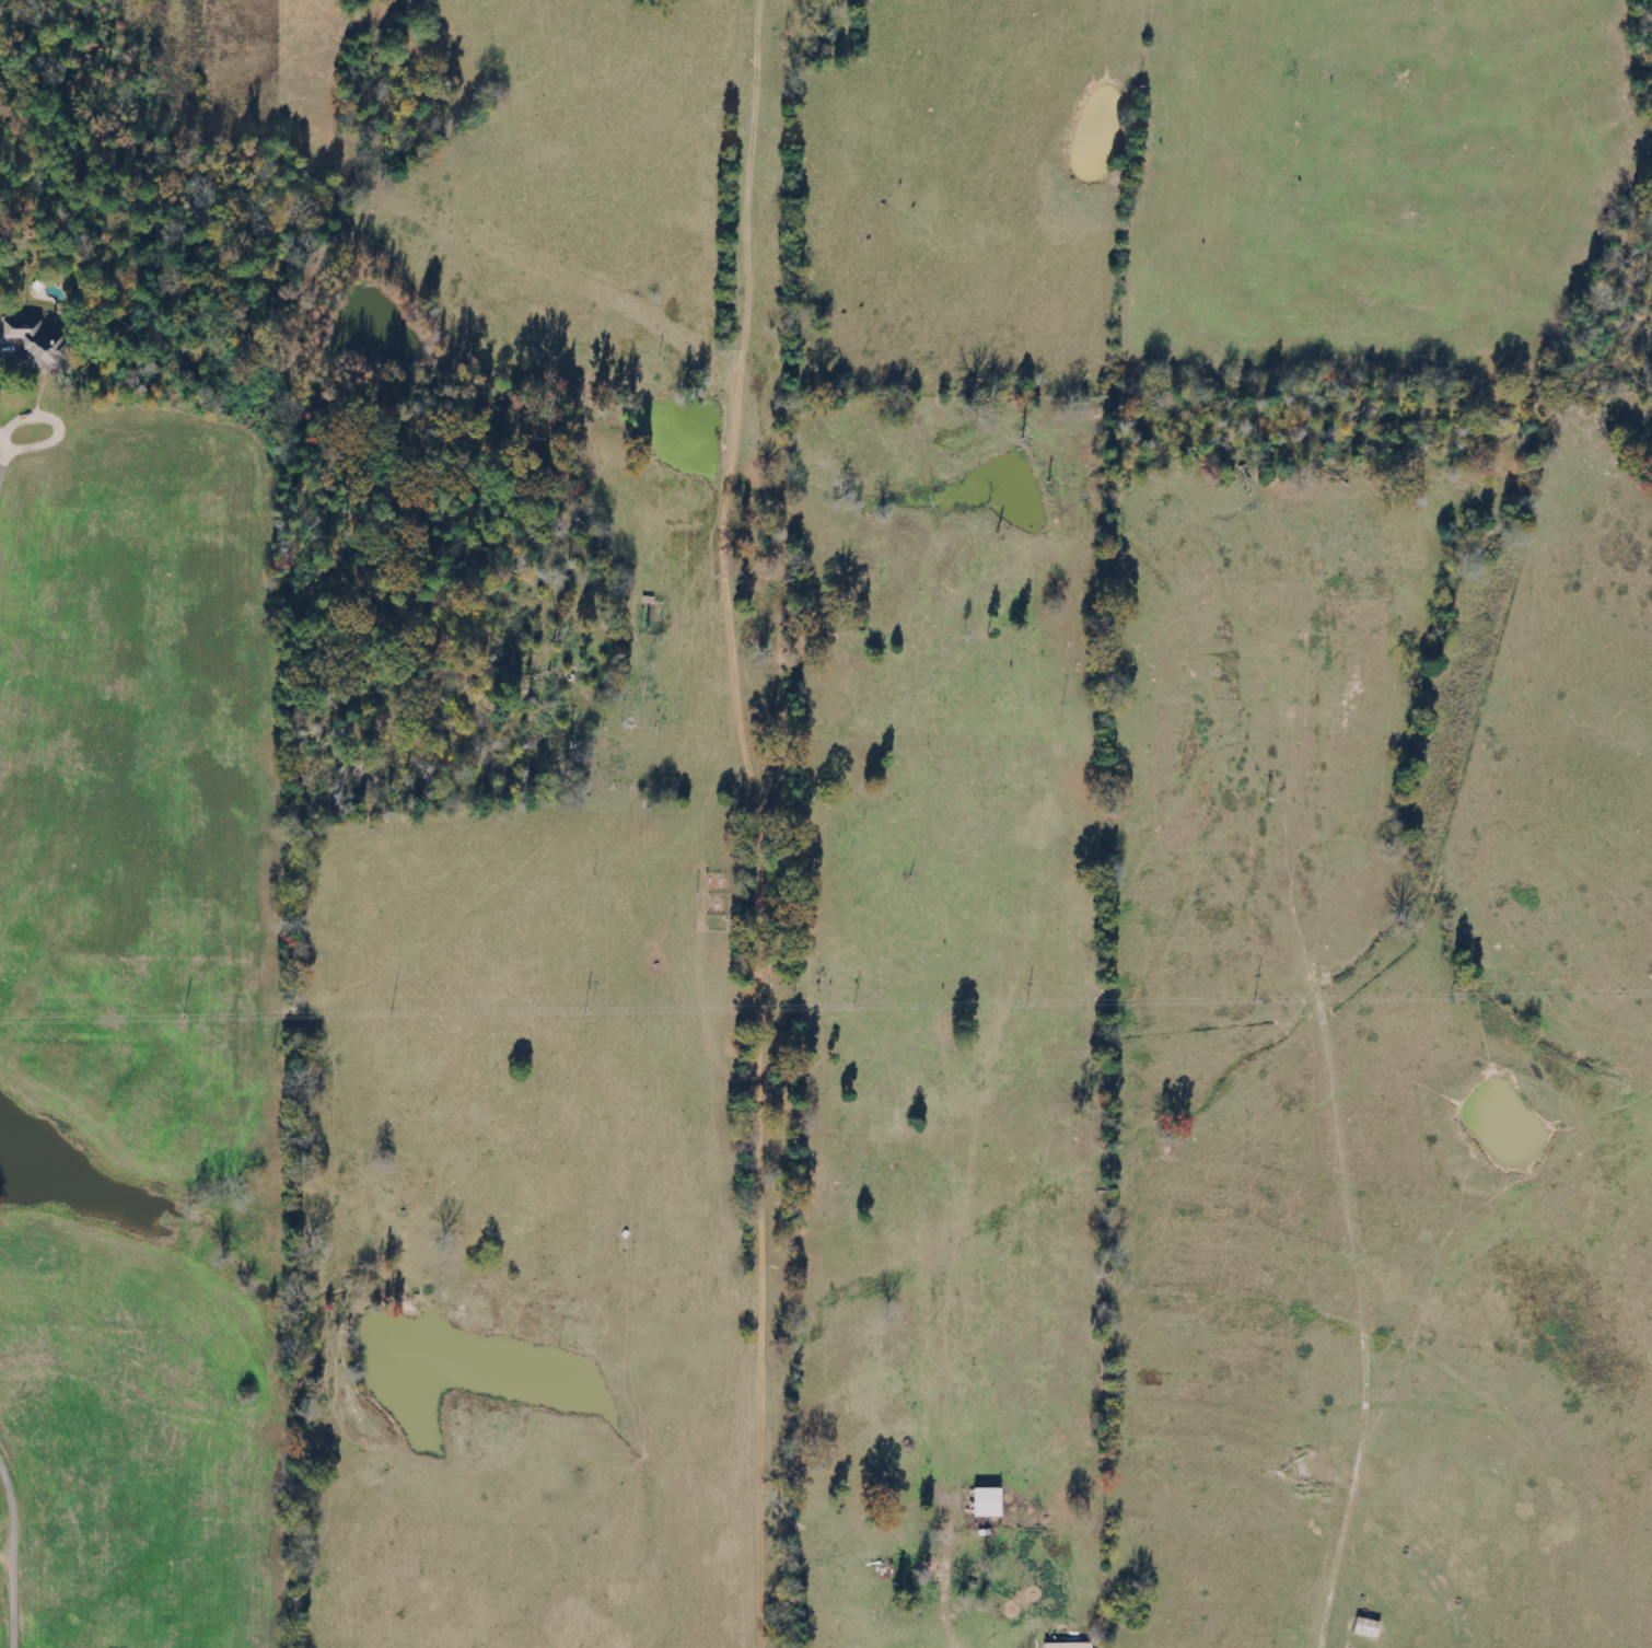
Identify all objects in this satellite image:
building: (32, 343)
road: (768, 822)
building: (990, 1501)
building: (1369, 1628)
building: (1070, 1645)

